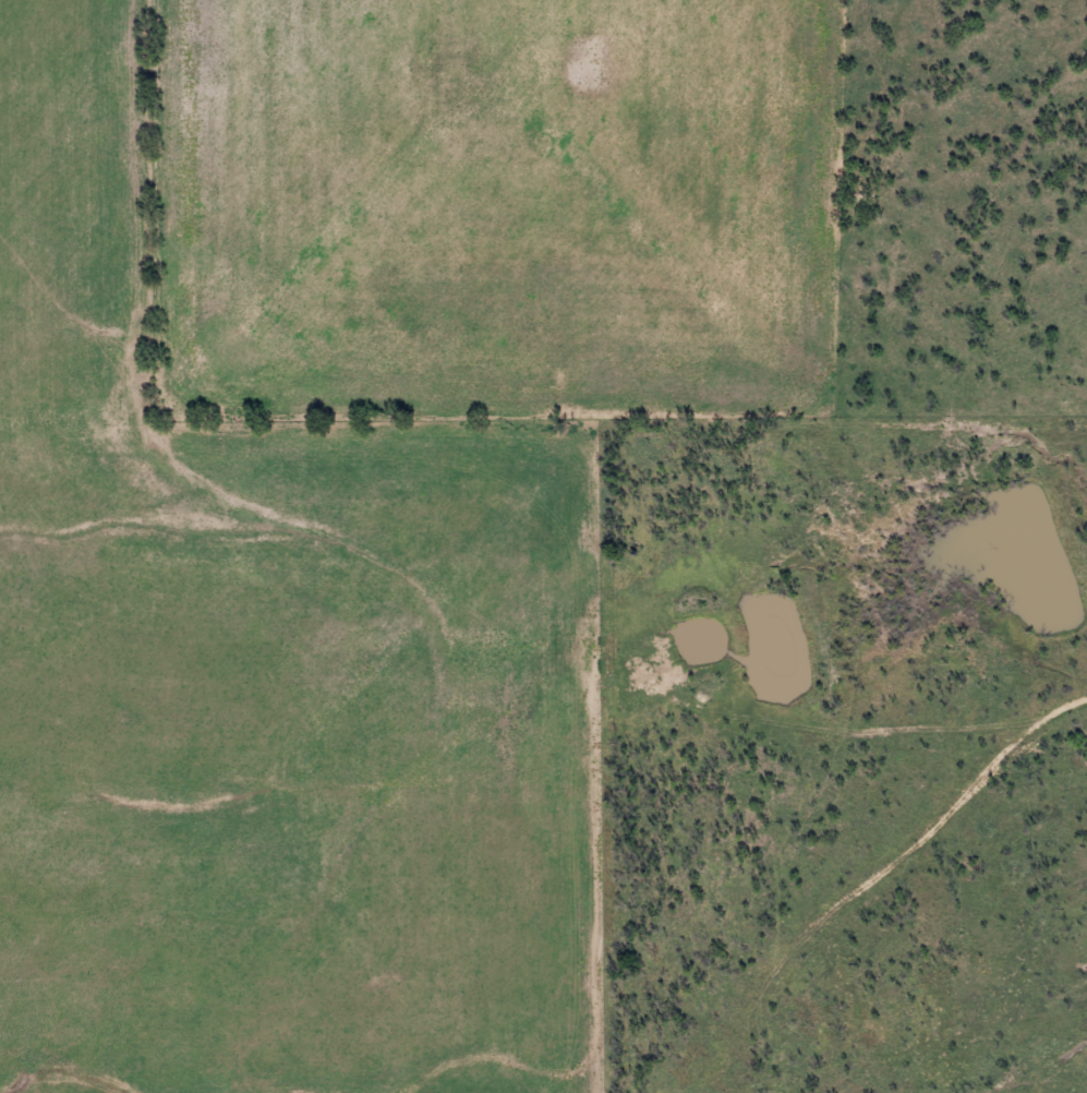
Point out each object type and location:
road: (853, 874)

